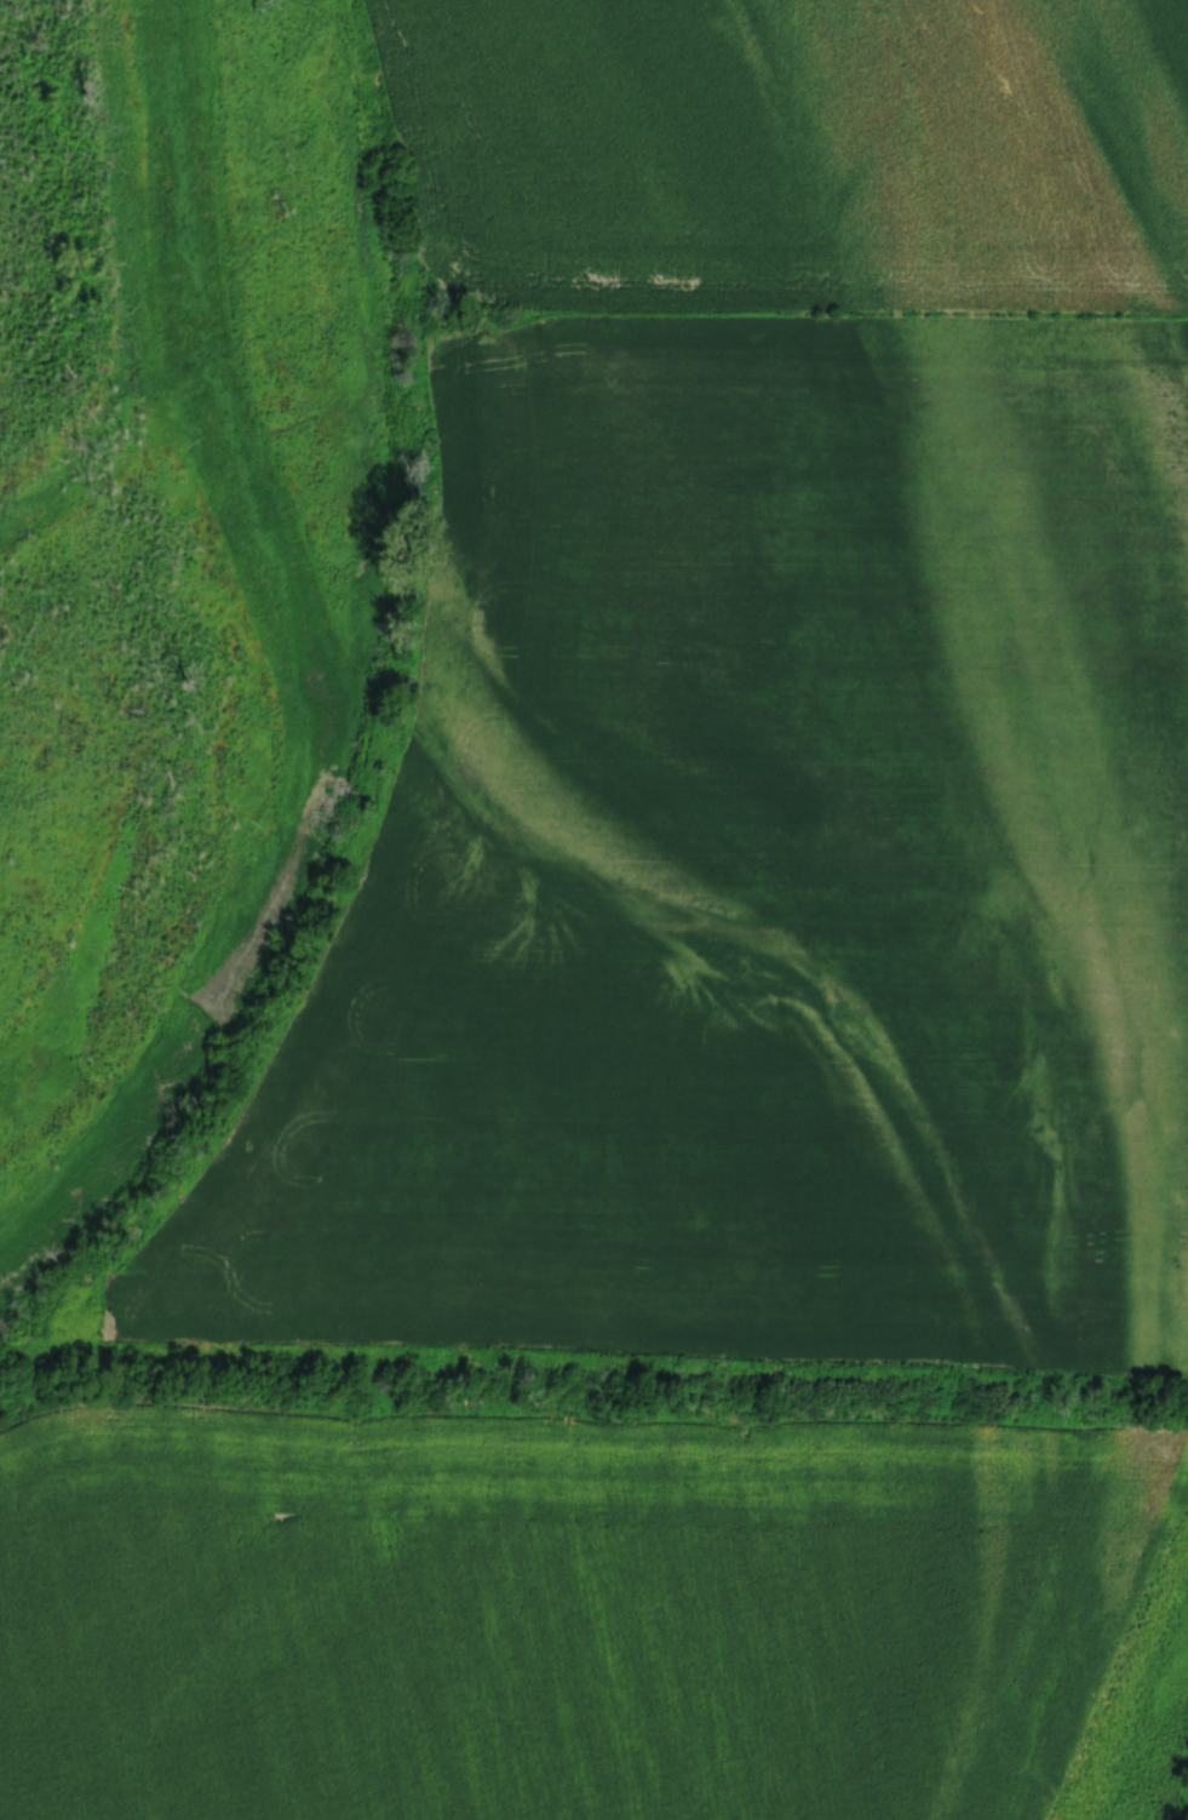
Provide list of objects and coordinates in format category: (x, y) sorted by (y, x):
road: (592, 1406)

